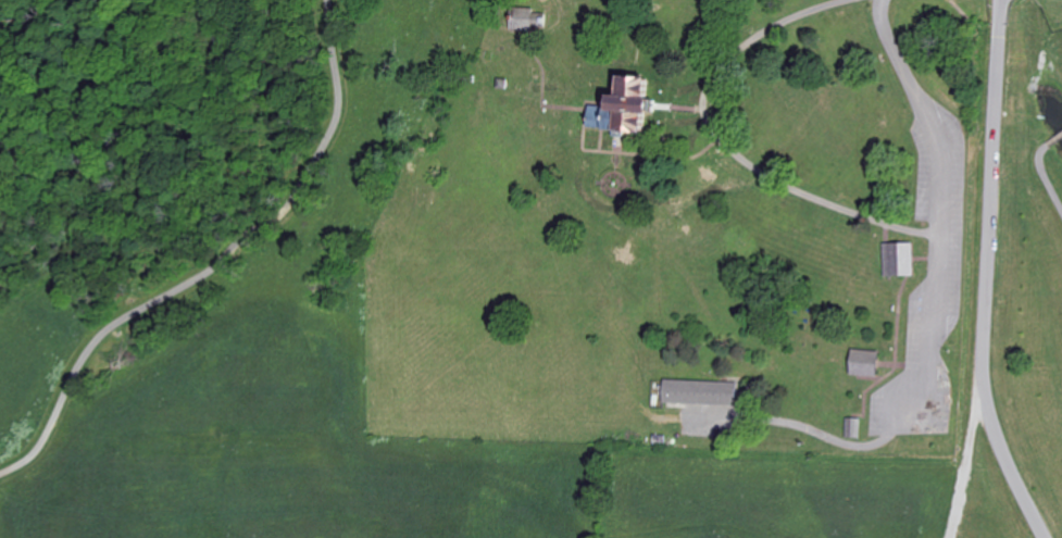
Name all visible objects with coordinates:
building: (522, 17)
building: (539, 22)
building: (625, 107)
road: (1054, 138)
road: (733, 147)
road: (1045, 175)
road: (989, 195)
road: (951, 198)
park: (685, 229)
building: (897, 258)
road: (216, 264)
park: (179, 341)
building: (865, 363)
building: (701, 392)
building: (853, 427)
road: (826, 435)
road: (970, 465)
road: (1011, 465)

